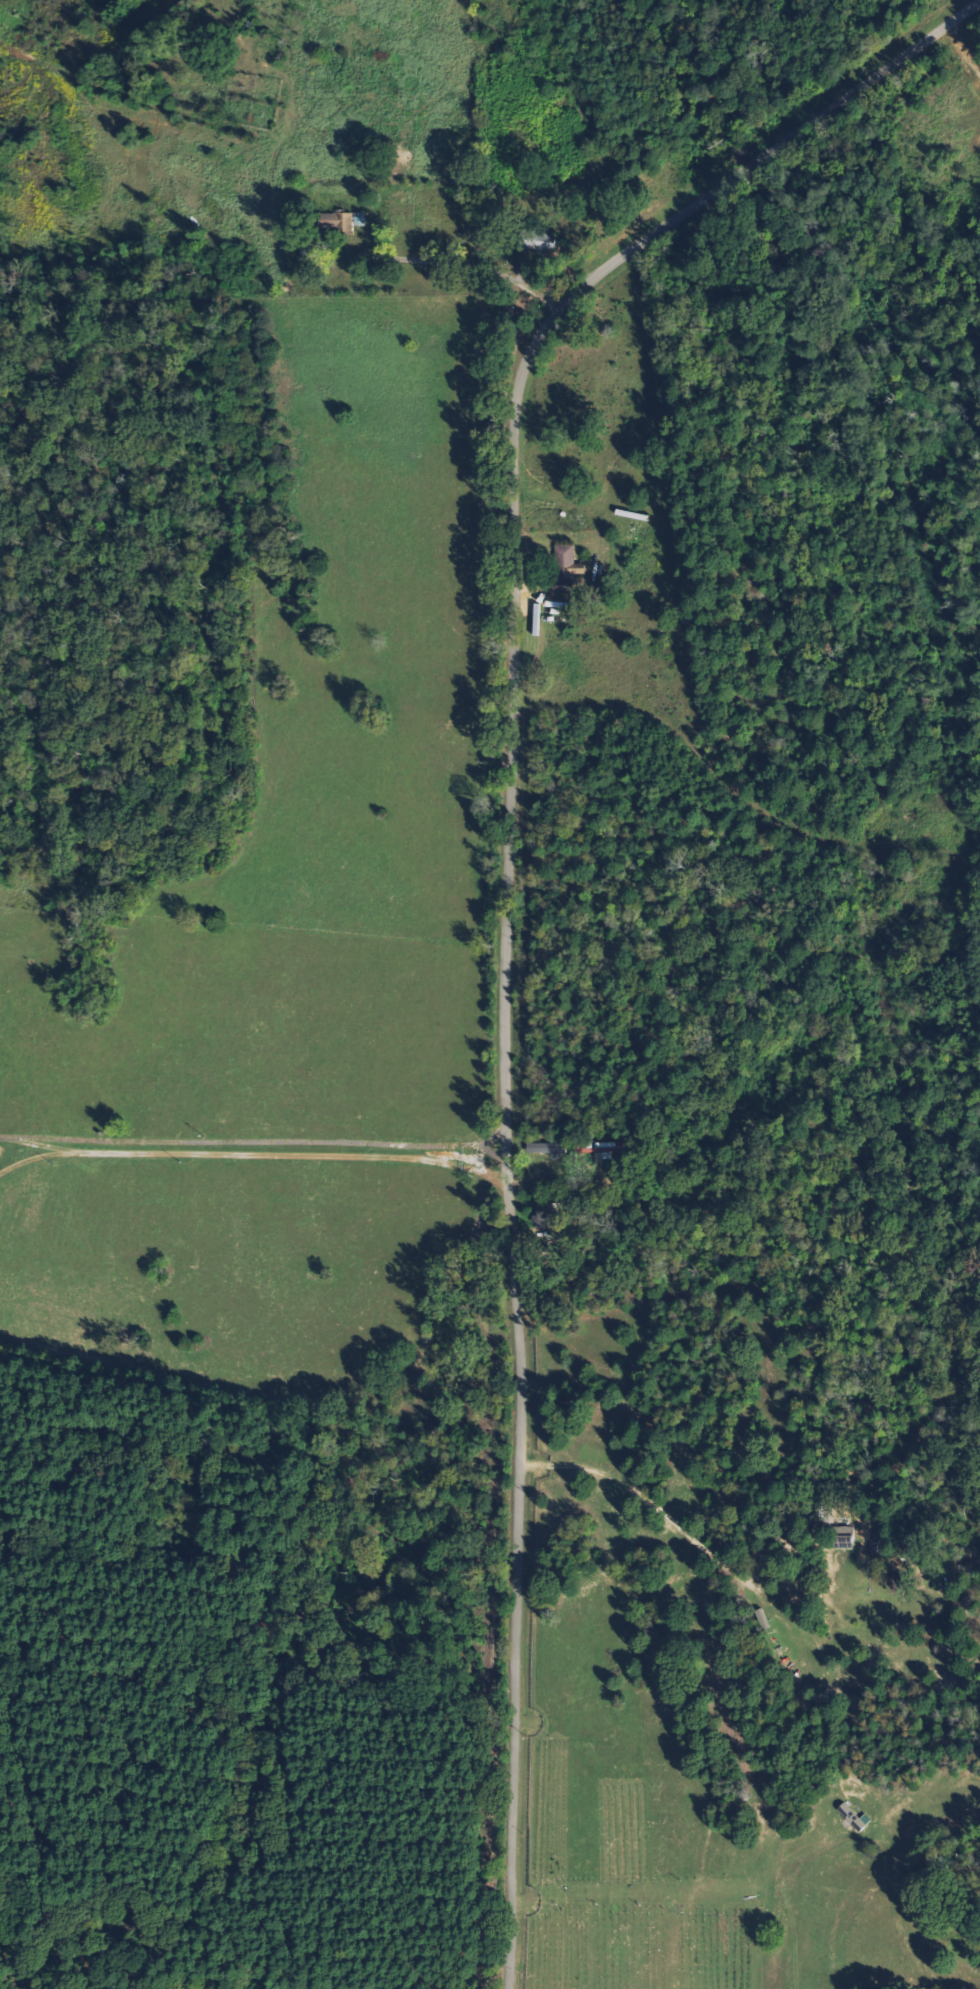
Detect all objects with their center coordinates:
building: (361, 219)
building: (340, 221)
road: (513, 886)
building: (551, 1149)
building: (609, 1149)
building: (544, 1217)
building: (845, 1538)

